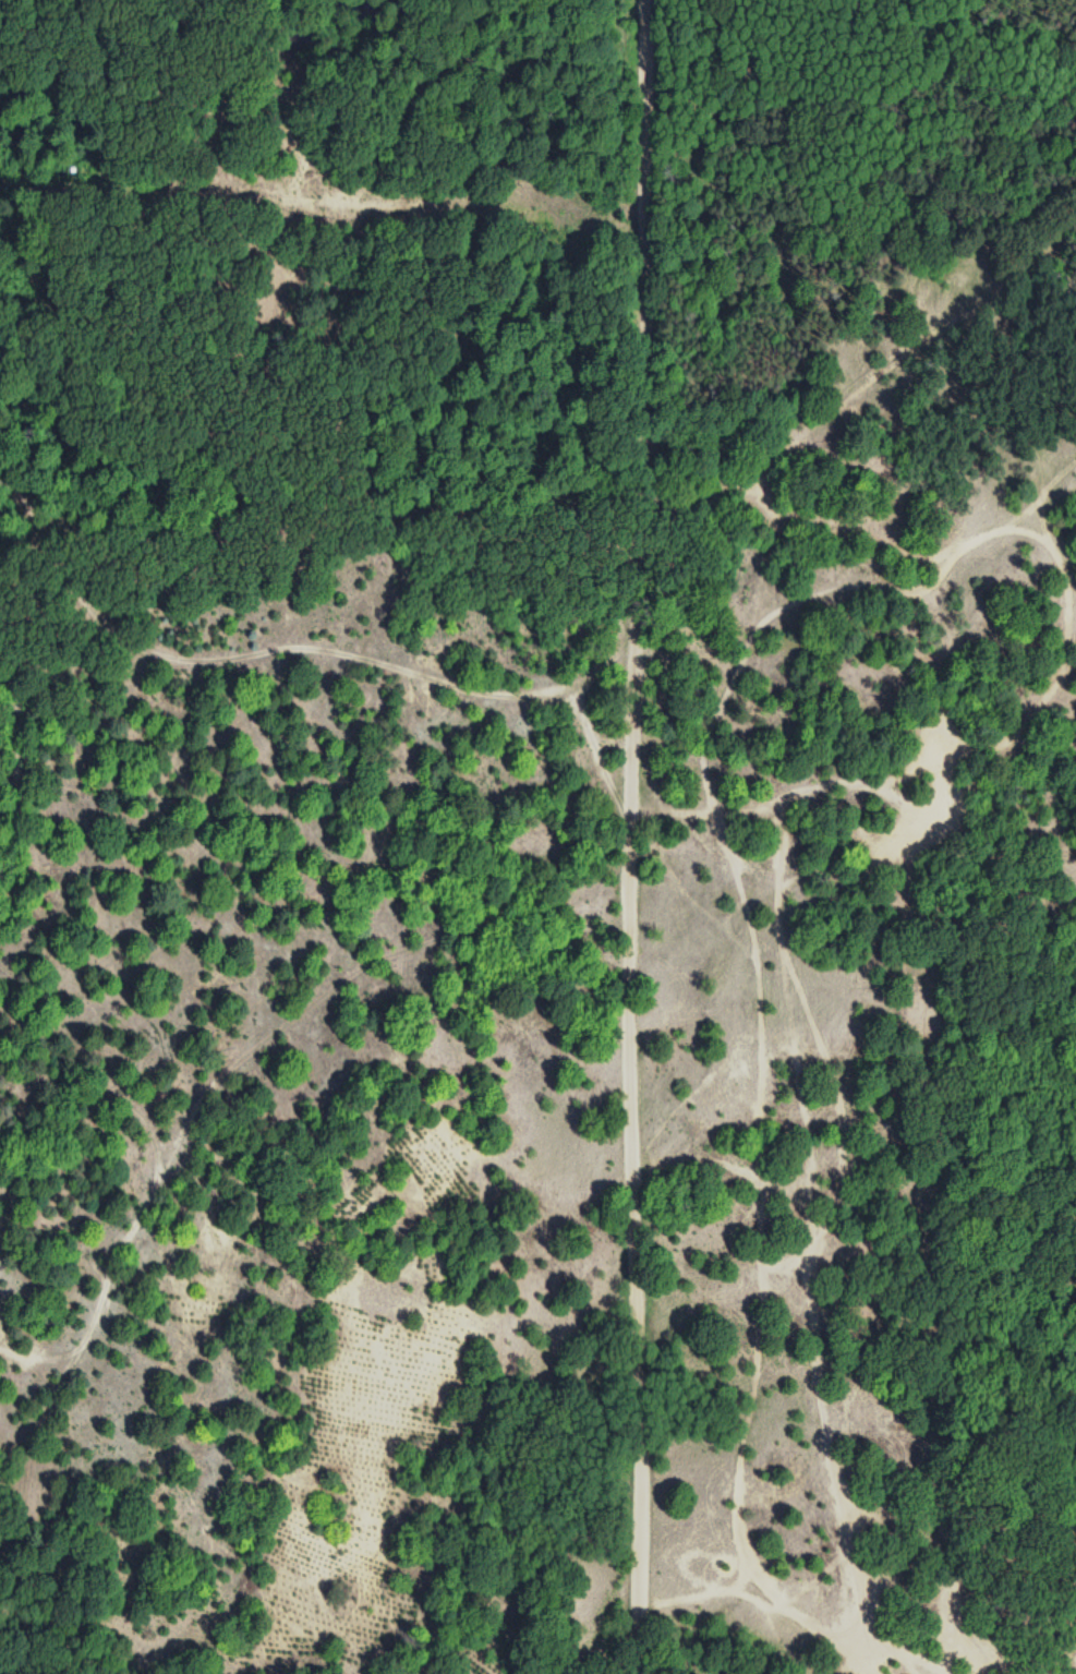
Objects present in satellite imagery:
road: (612, 836)
road: (242, 1074)

